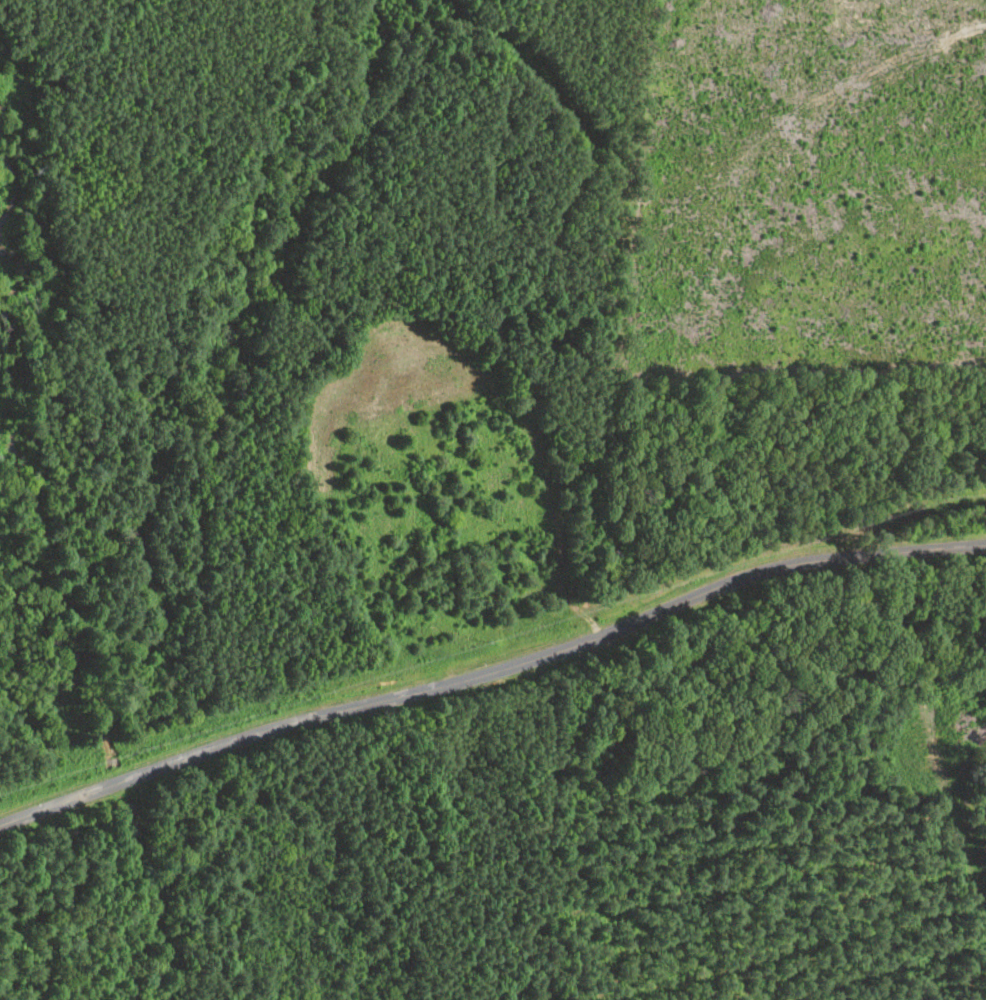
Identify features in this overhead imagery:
road: (557, 646)
road: (66, 798)

